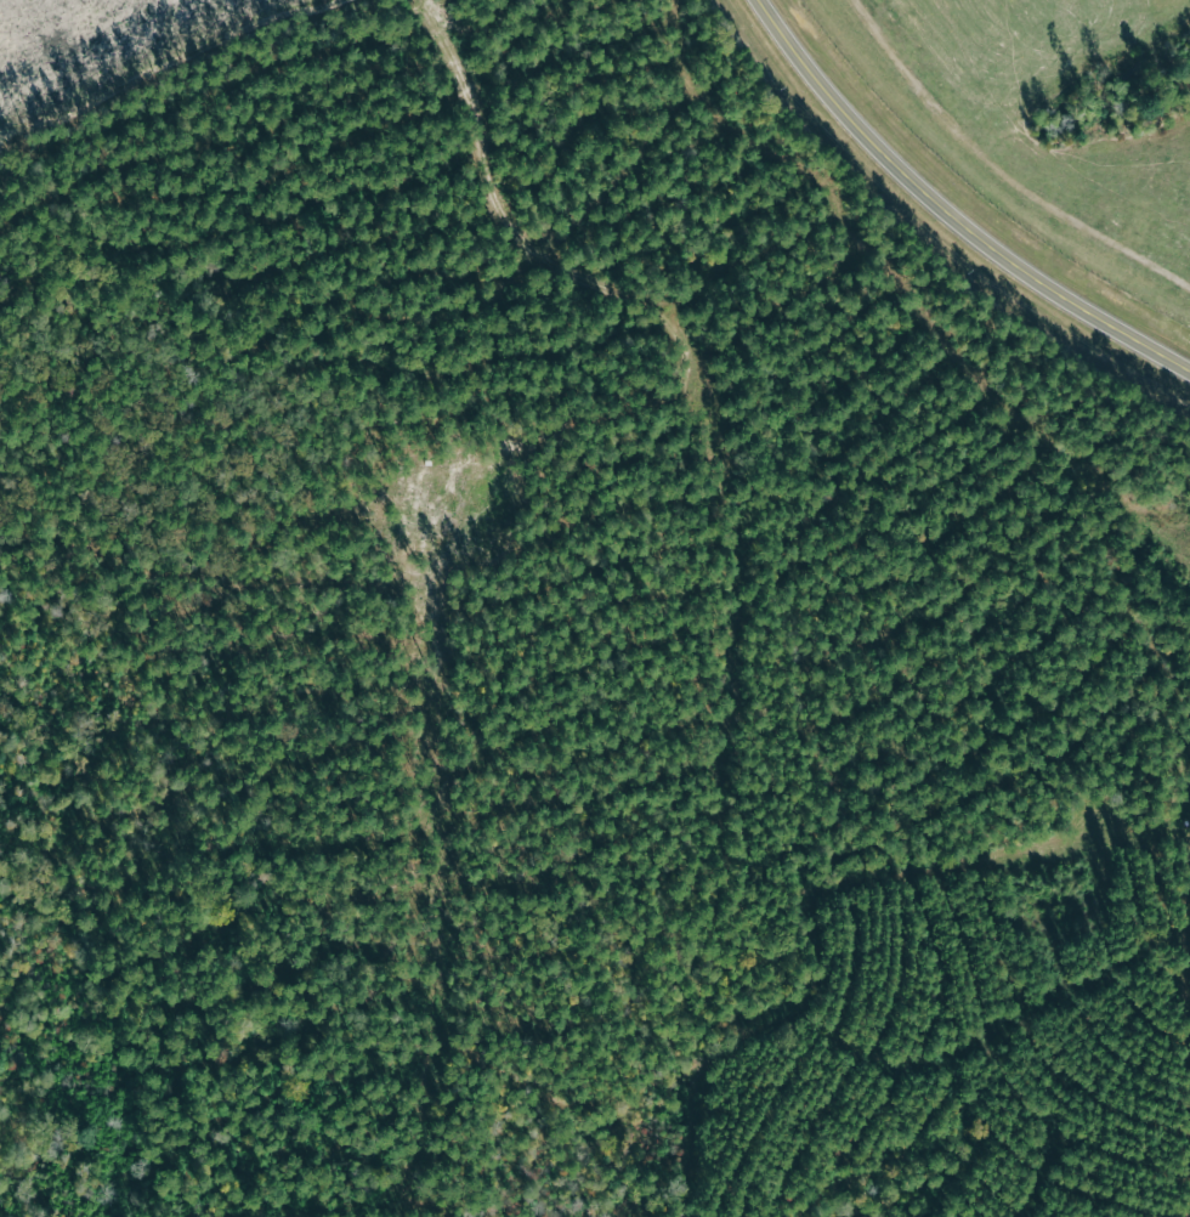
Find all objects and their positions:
road: (950, 214)

